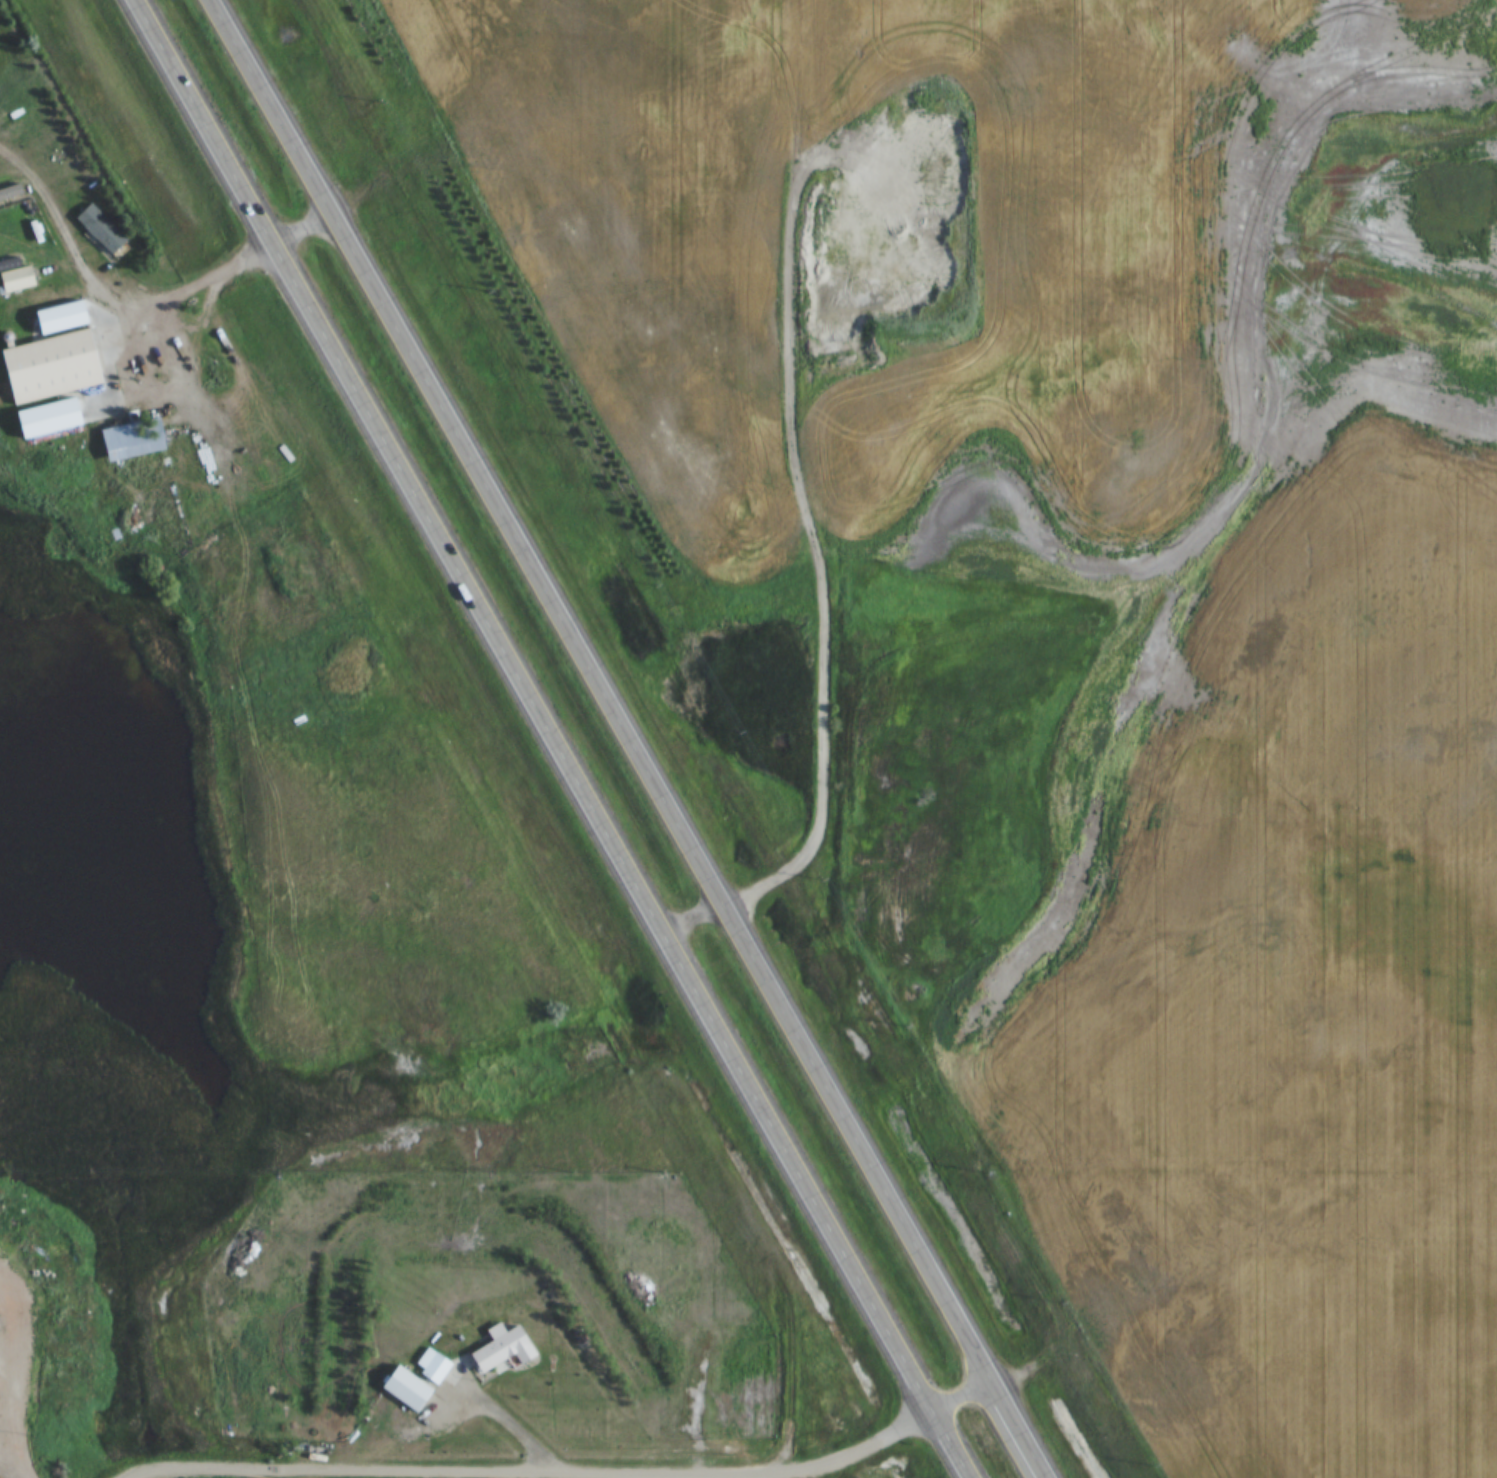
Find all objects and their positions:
quarry: (899, 222)
building: (101, 229)
building: (17, 280)
road: (110, 362)
building: (49, 367)
building: (134, 439)
road: (819, 544)
road: (596, 685)
road: (552, 739)
road: (1054, 800)
building: (505, 1346)
road: (21, 1359)
building: (437, 1369)
road: (955, 1385)
building: (407, 1389)
road: (506, 1418)
road: (1014, 1424)
road: (10, 1453)
road: (24, 1468)
road: (538, 1472)

